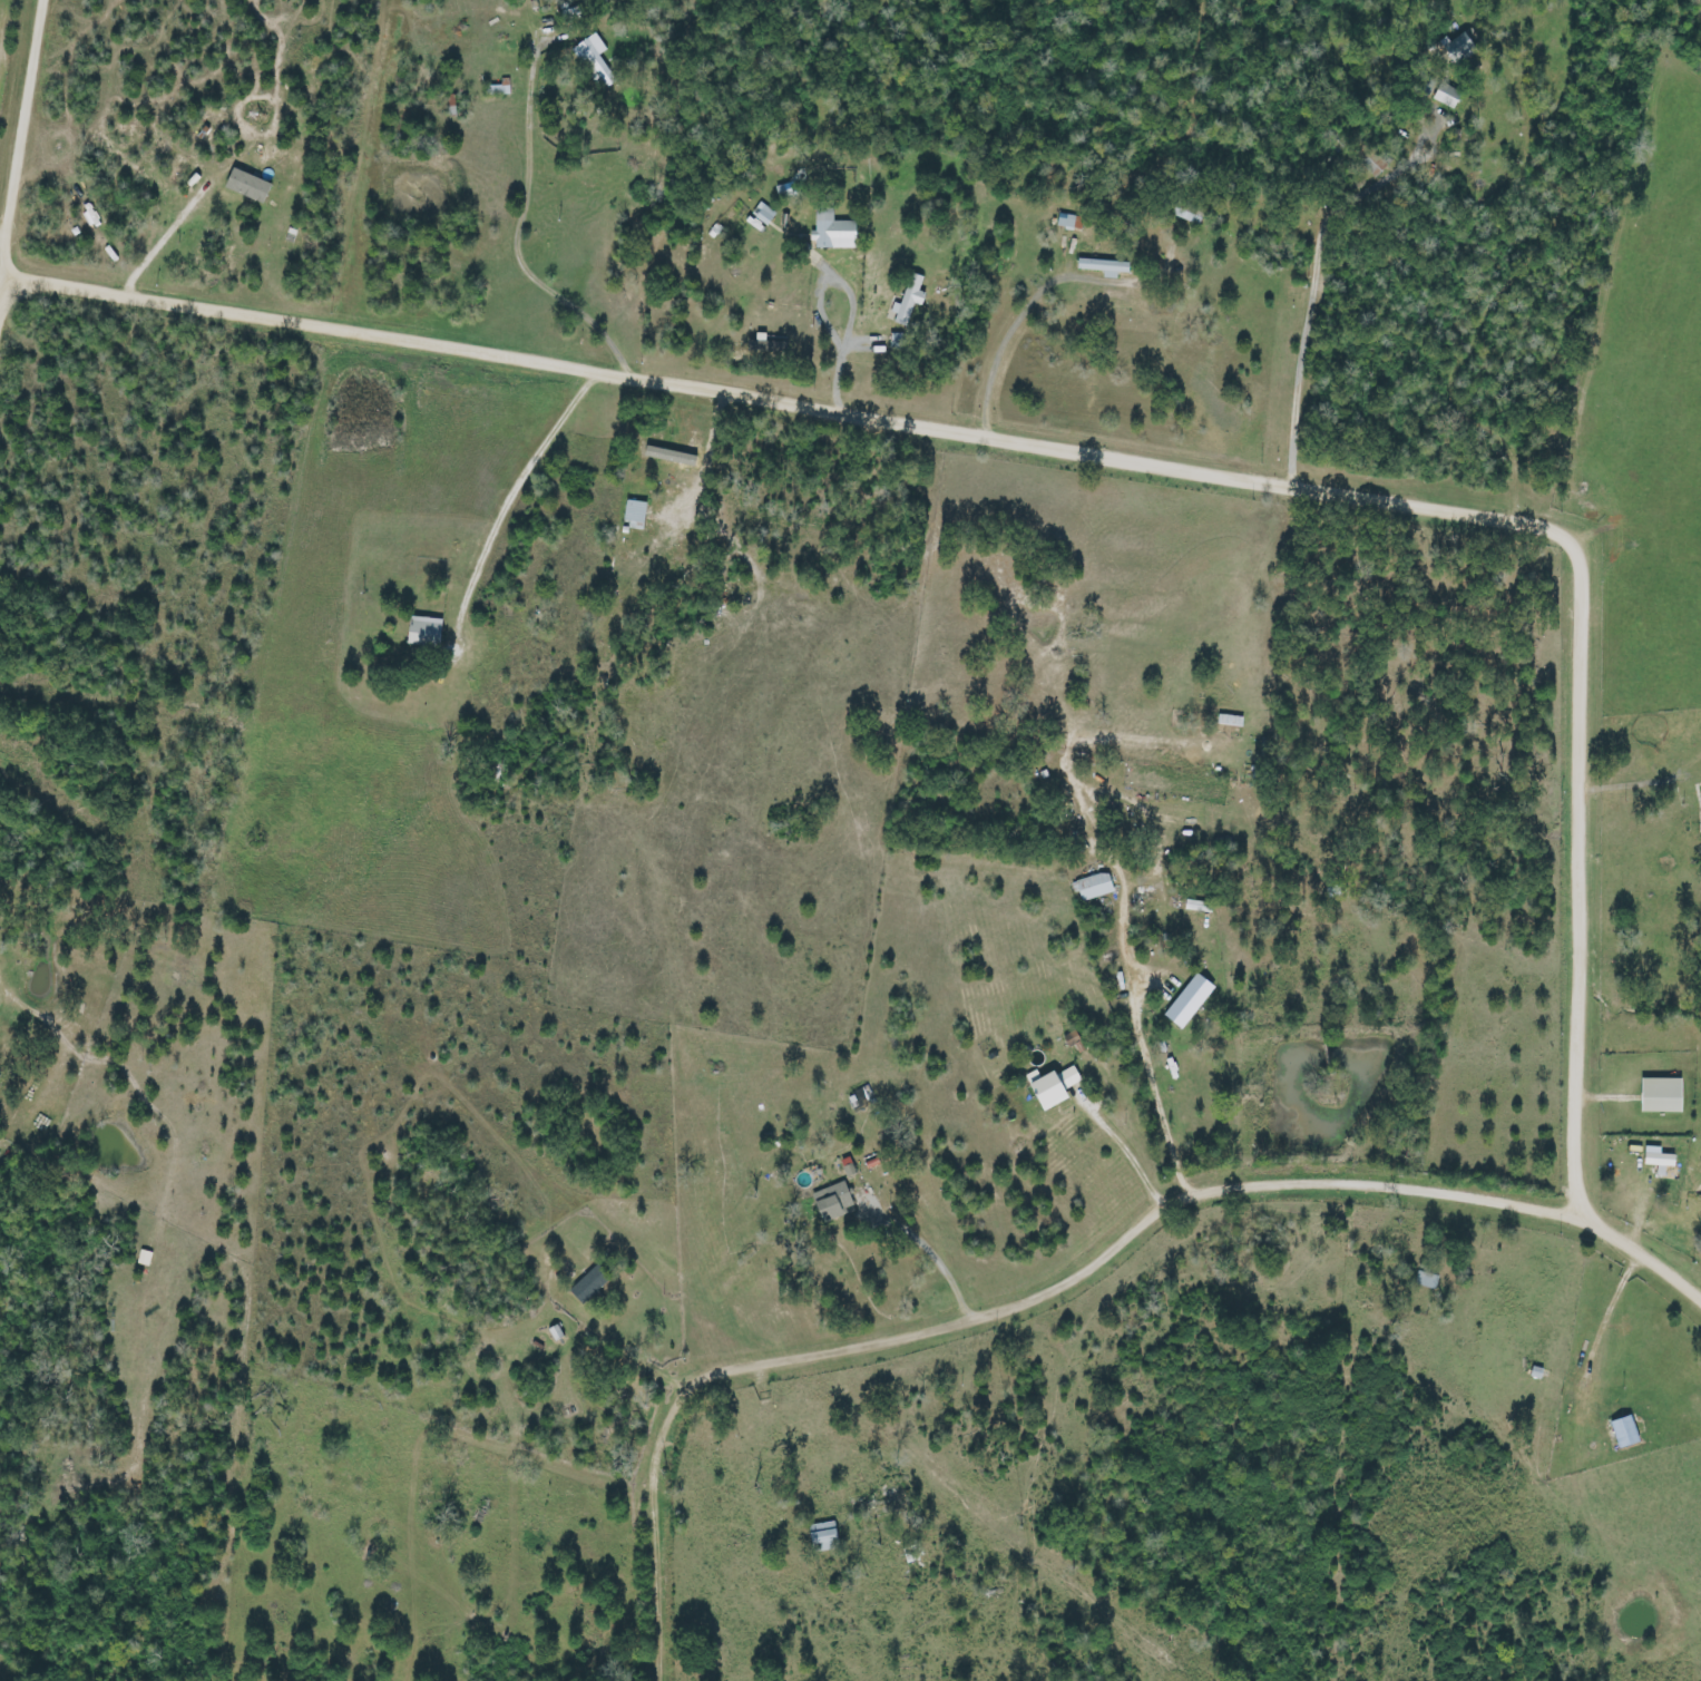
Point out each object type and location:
building: (1458, 49)
building: (595, 60)
building: (1446, 96)
road: (25, 164)
building: (246, 186)
building: (763, 214)
building: (1069, 223)
building: (831, 231)
building: (1103, 267)
road: (1580, 267)
building: (907, 302)
road: (1190, 468)
building: (634, 511)
building: (423, 631)
building: (1093, 887)
building: (1187, 1000)
building: (1053, 1087)
building: (1660, 1095)
building: (1659, 1162)
building: (828, 1208)
building: (1426, 1280)
building: (588, 1284)
road: (1011, 1307)
building: (1623, 1431)
building: (822, 1536)

